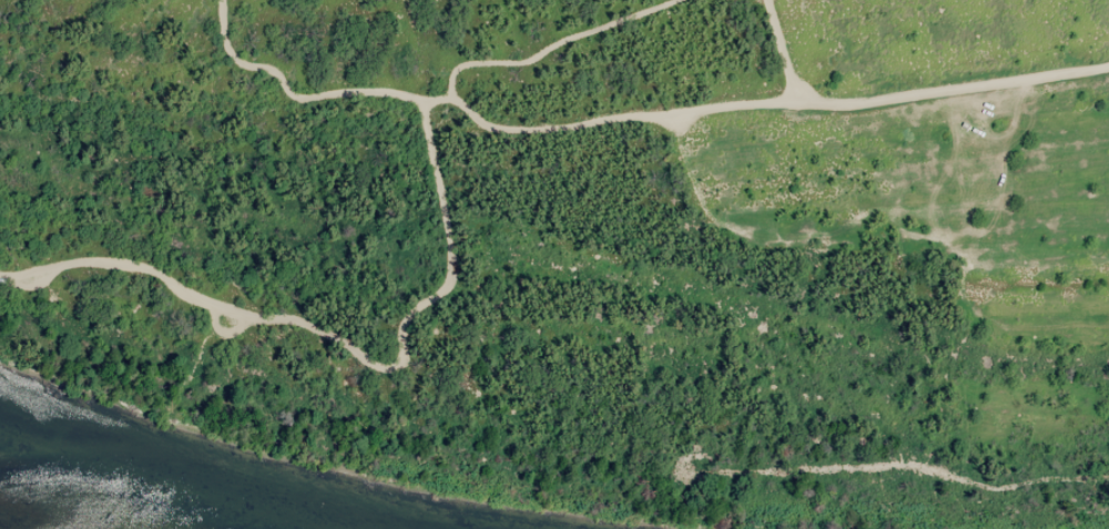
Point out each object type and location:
river: (183, 465)
river: (41, 522)

